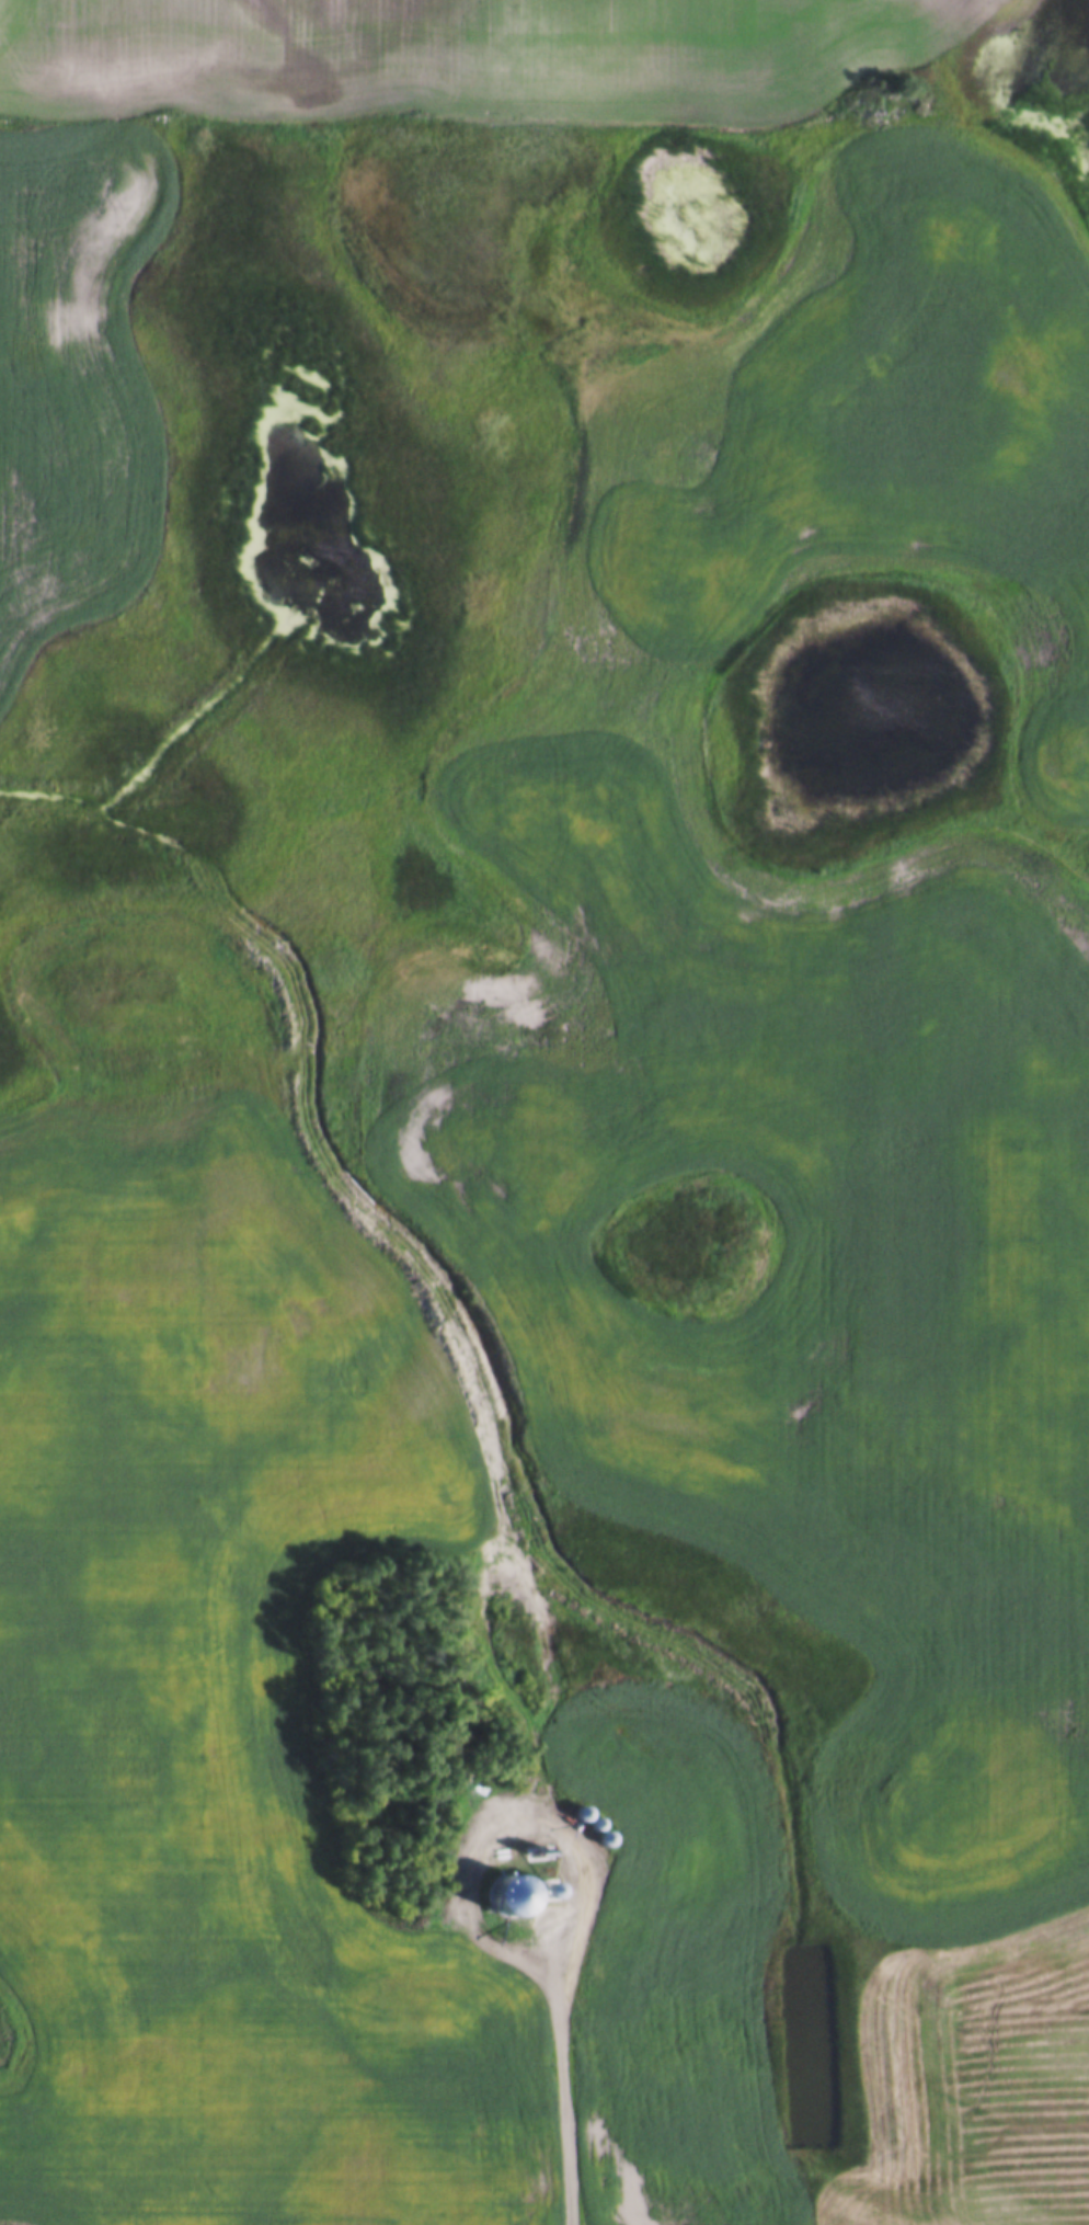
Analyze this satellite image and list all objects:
building: (589, 1813)

